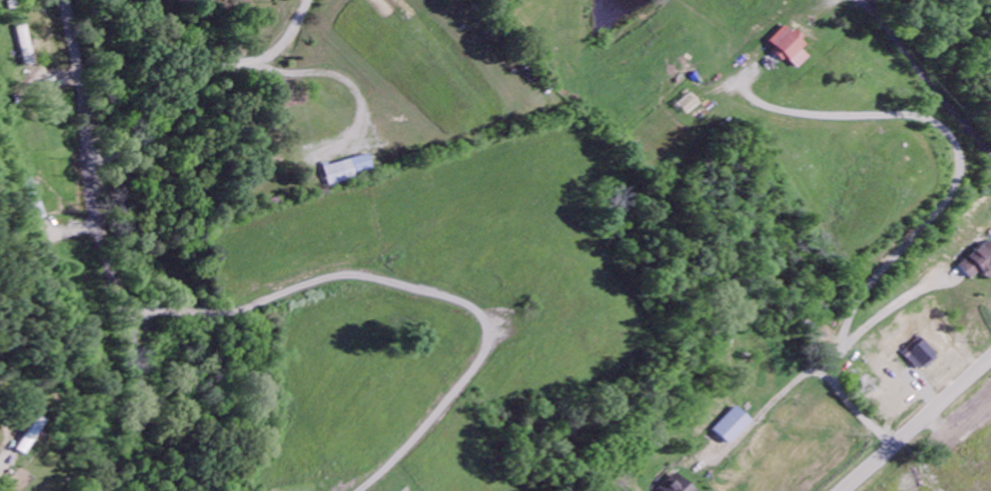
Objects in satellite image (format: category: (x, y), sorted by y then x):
building: (26, 47)
building: (790, 47)
road: (125, 94)
road: (42, 128)
road: (136, 143)
building: (347, 171)
road: (106, 254)
building: (978, 262)
road: (417, 290)
building: (923, 356)
building: (867, 385)
road: (917, 425)
building: (734, 426)
building: (679, 485)

